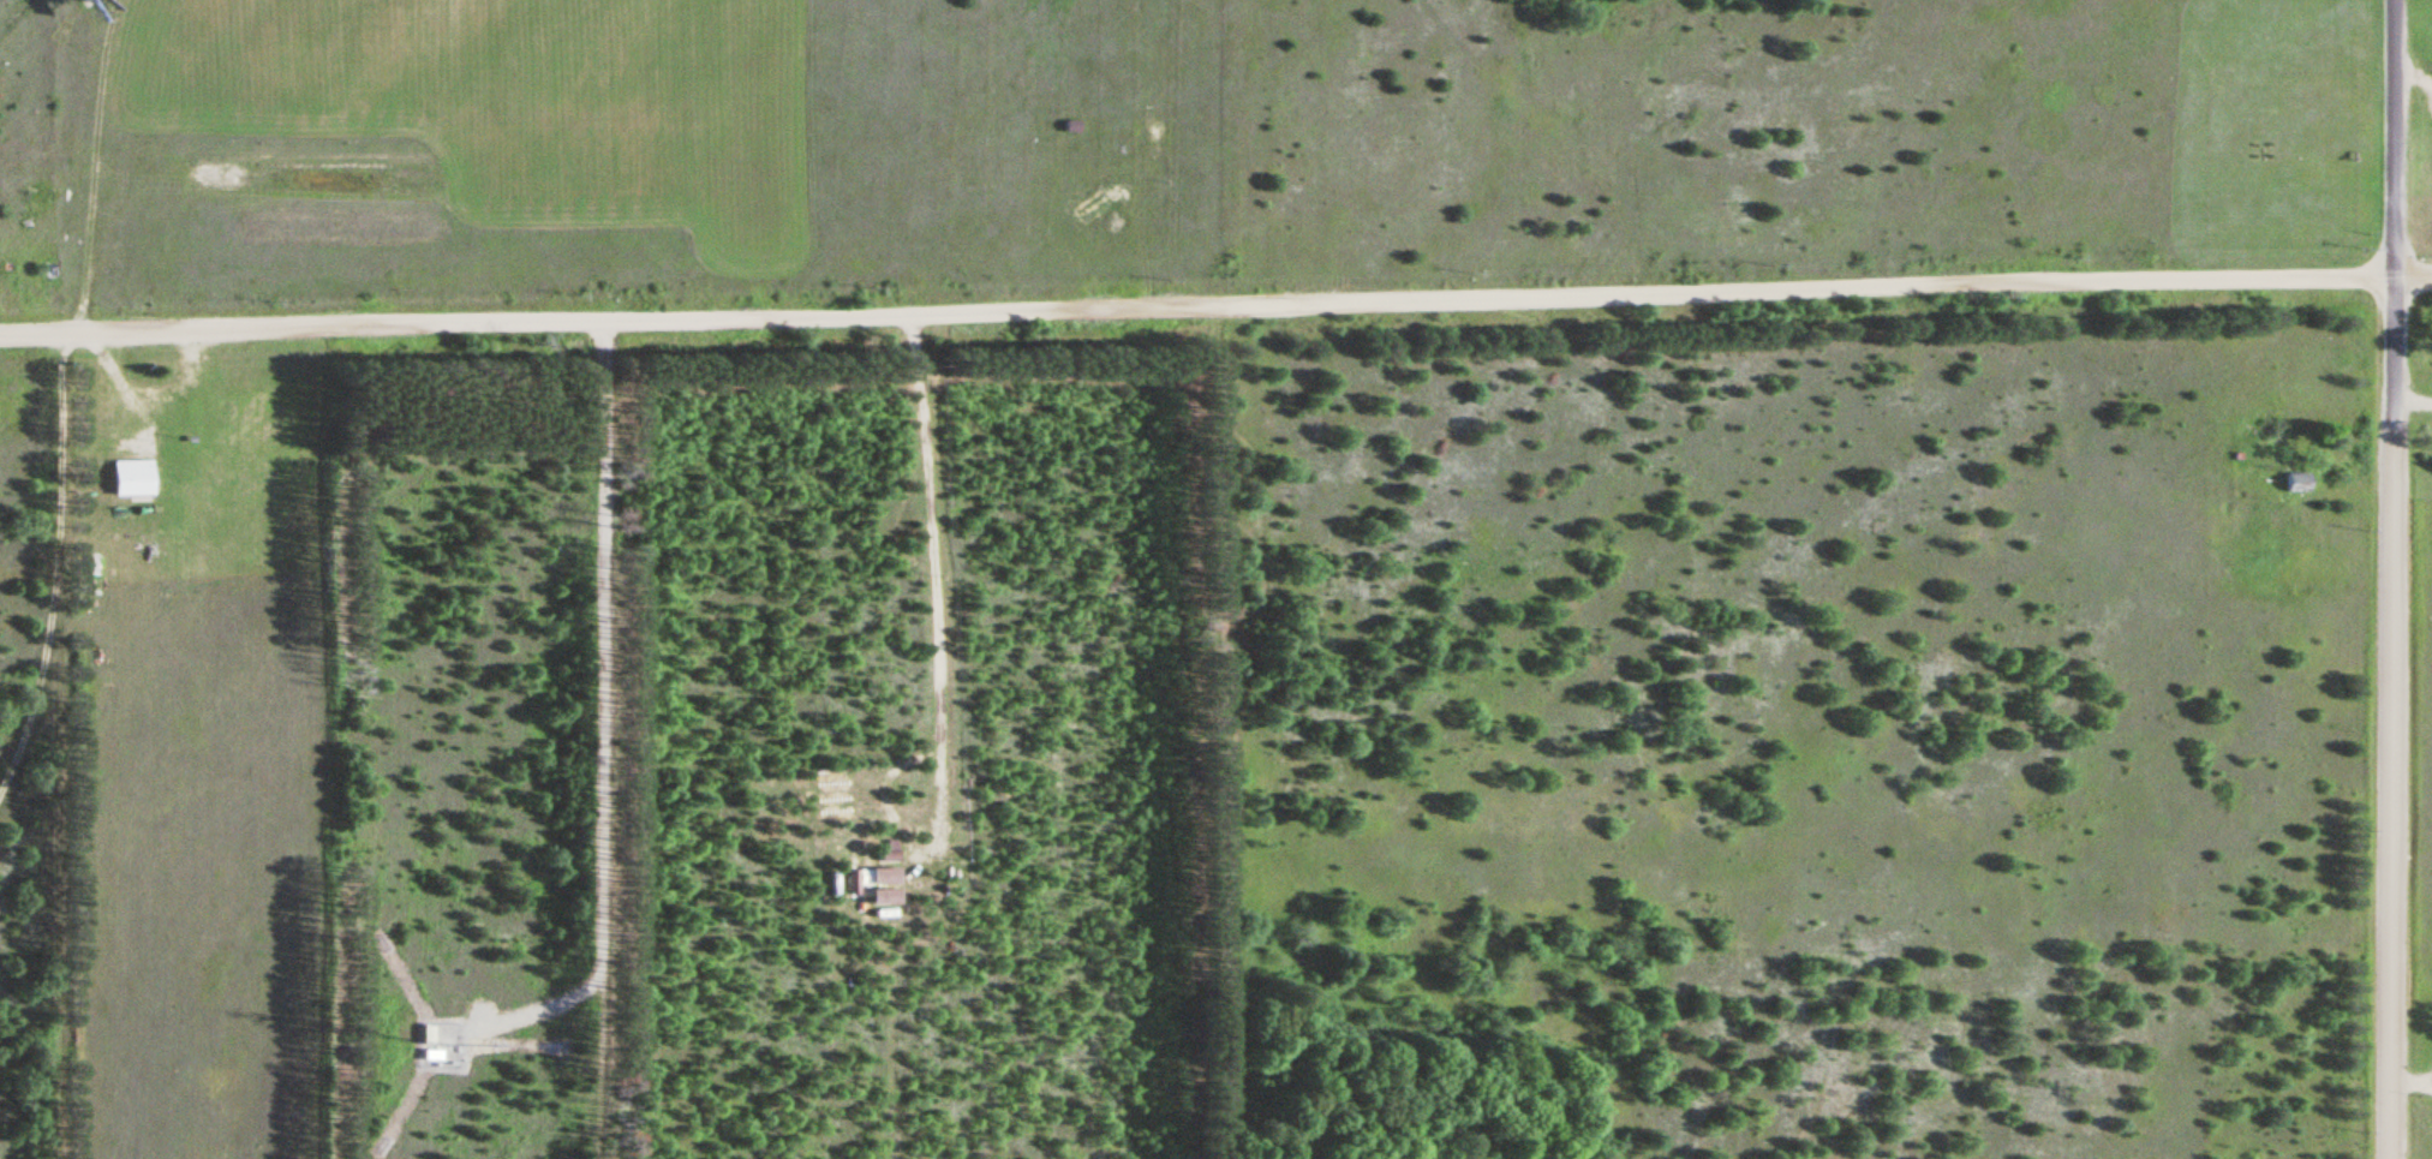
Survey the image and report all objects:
road: (2390, 216)
road: (1243, 294)
road: (28, 329)
road: (2410, 401)
building: (132, 479)
building: (2296, 483)
road: (55, 560)
road: (600, 698)
road: (2389, 796)
building: (436, 1040)
road: (2410, 1085)

